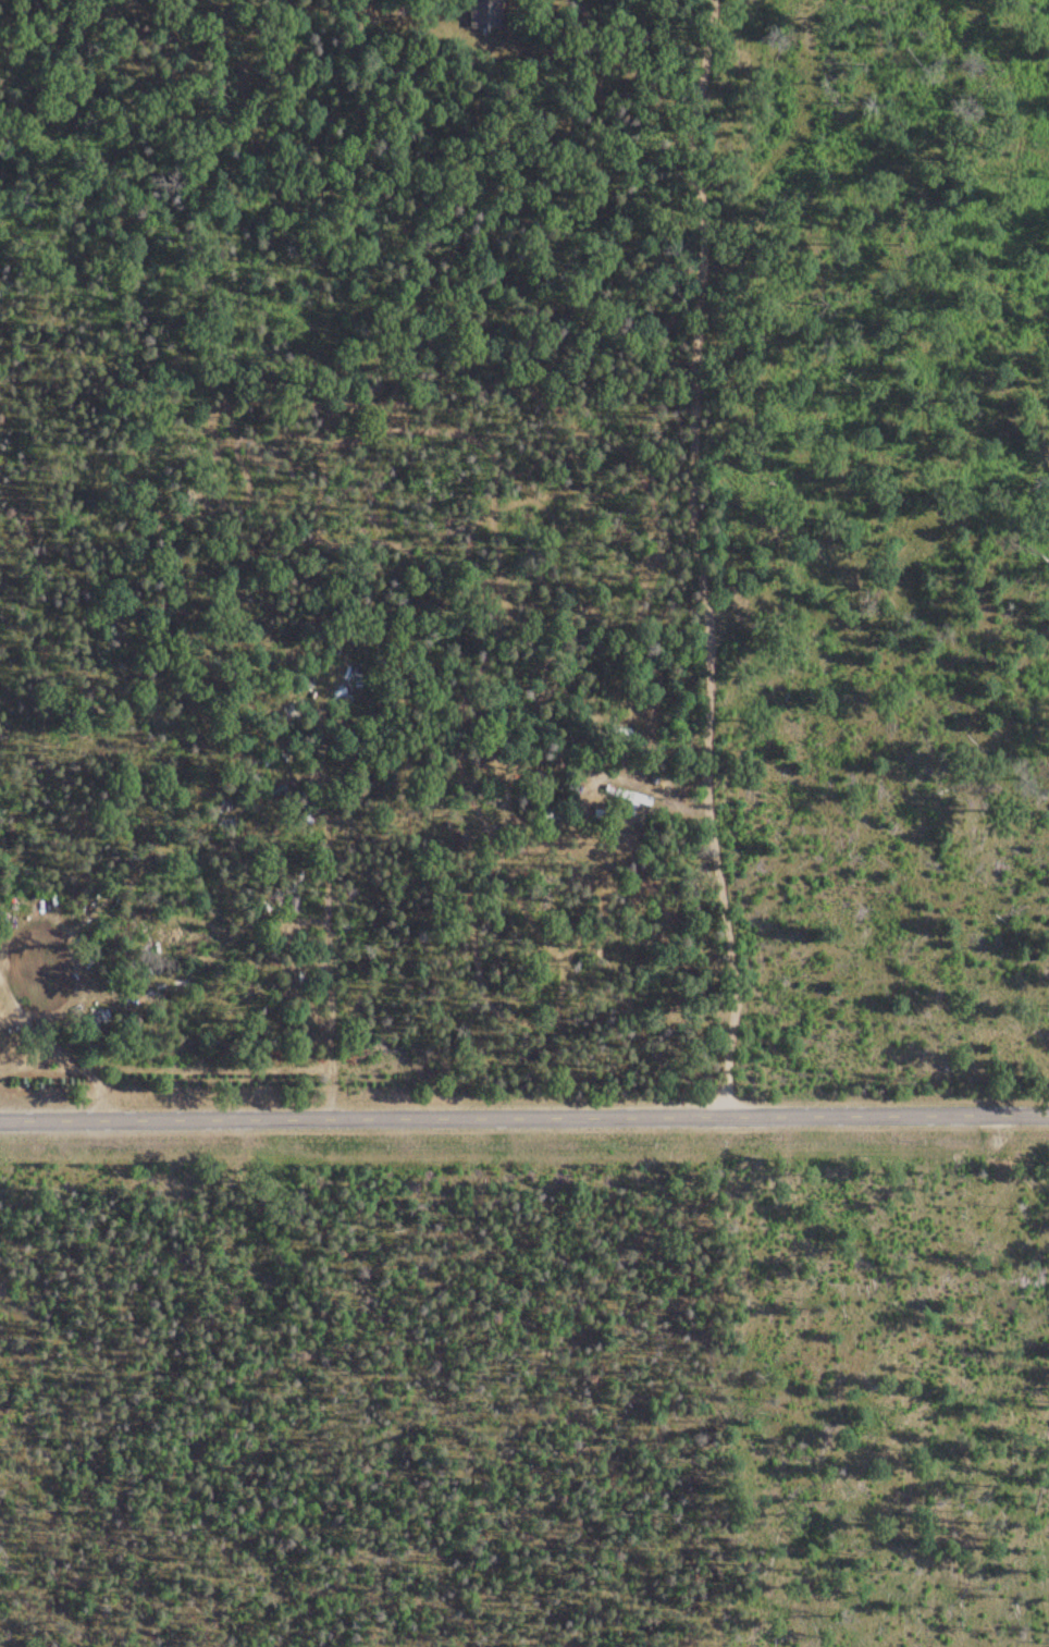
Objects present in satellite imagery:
road: (399, 554)
road: (523, 1108)

